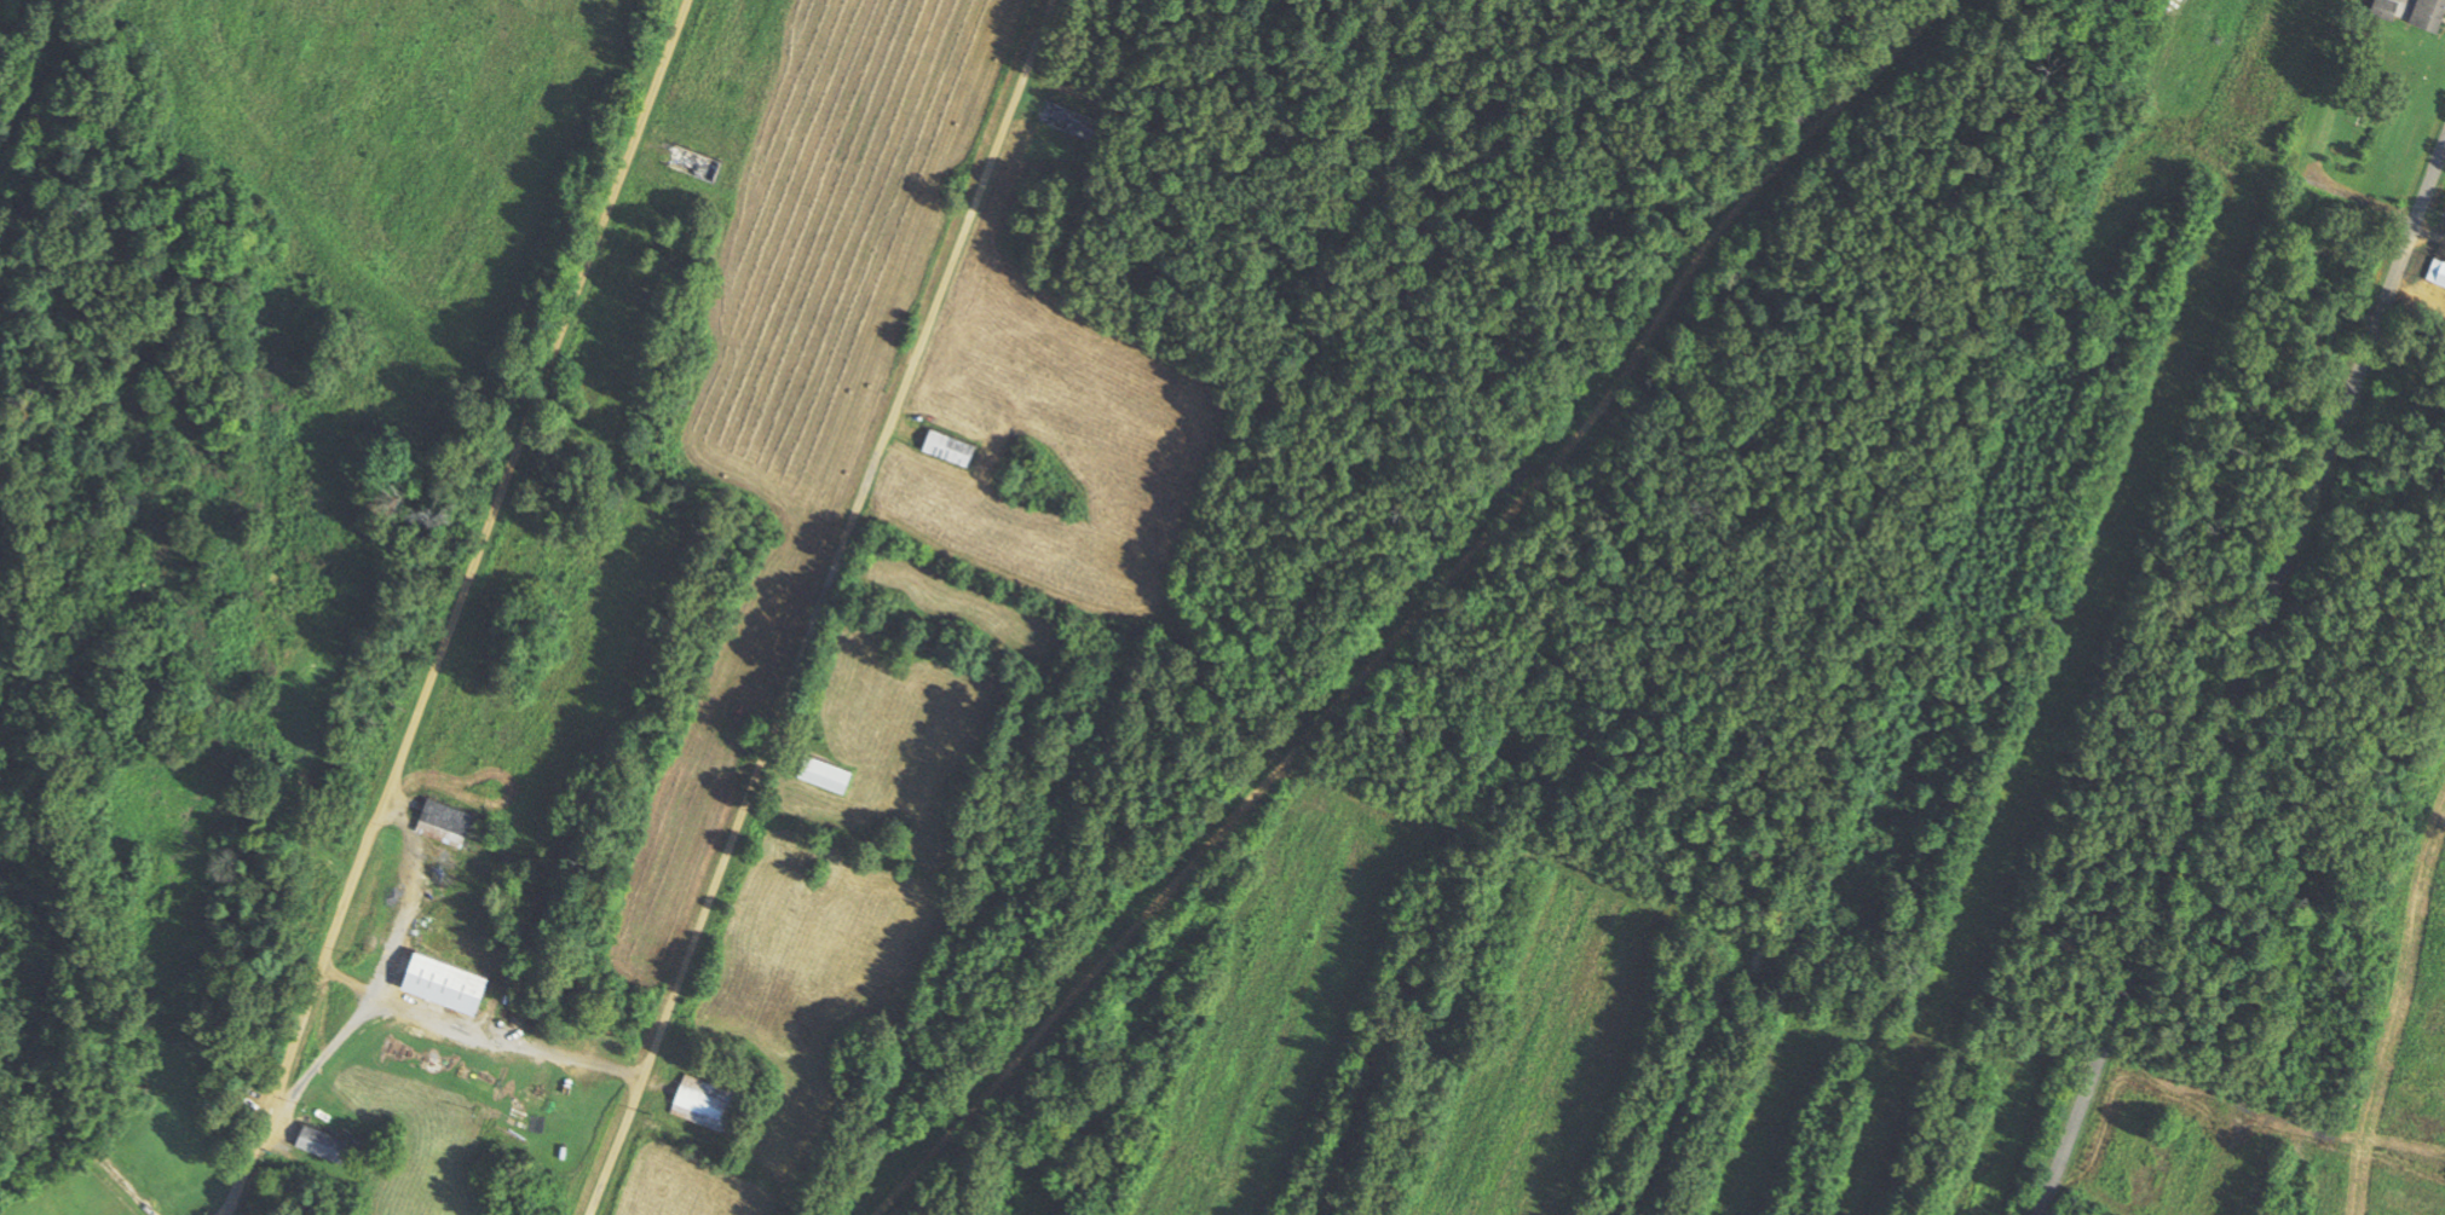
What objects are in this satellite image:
building: (2426, 15)
road: (1823, 123)
building: (690, 164)
building: (2435, 273)
building: (945, 449)
road: (1472, 580)
road: (461, 607)
road: (820, 607)
road: (1950, 607)
road: (1154, 609)
road: (2243, 683)
building: (820, 775)
building: (439, 822)
road: (1178, 878)
building: (437, 982)
building: (702, 1103)
road: (75, 1135)
building: (318, 1142)

